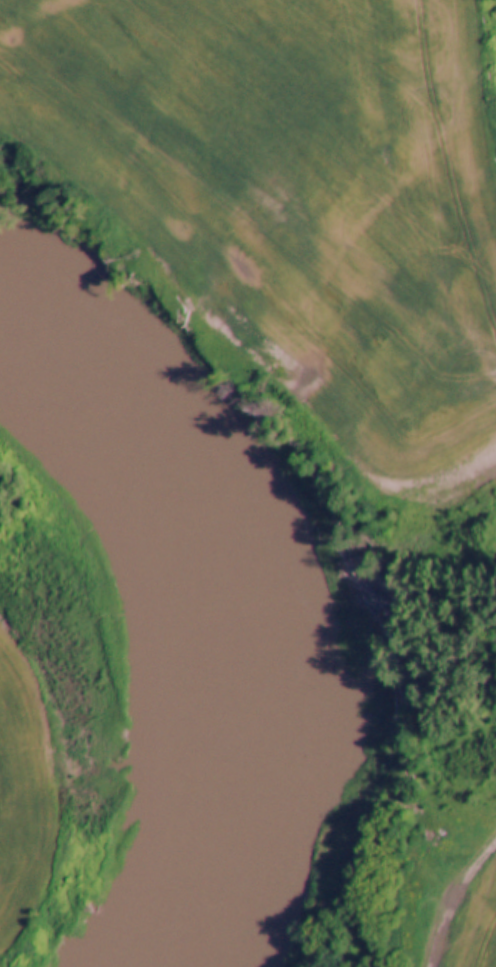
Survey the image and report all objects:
river: (186, 636)
road: (447, 891)

